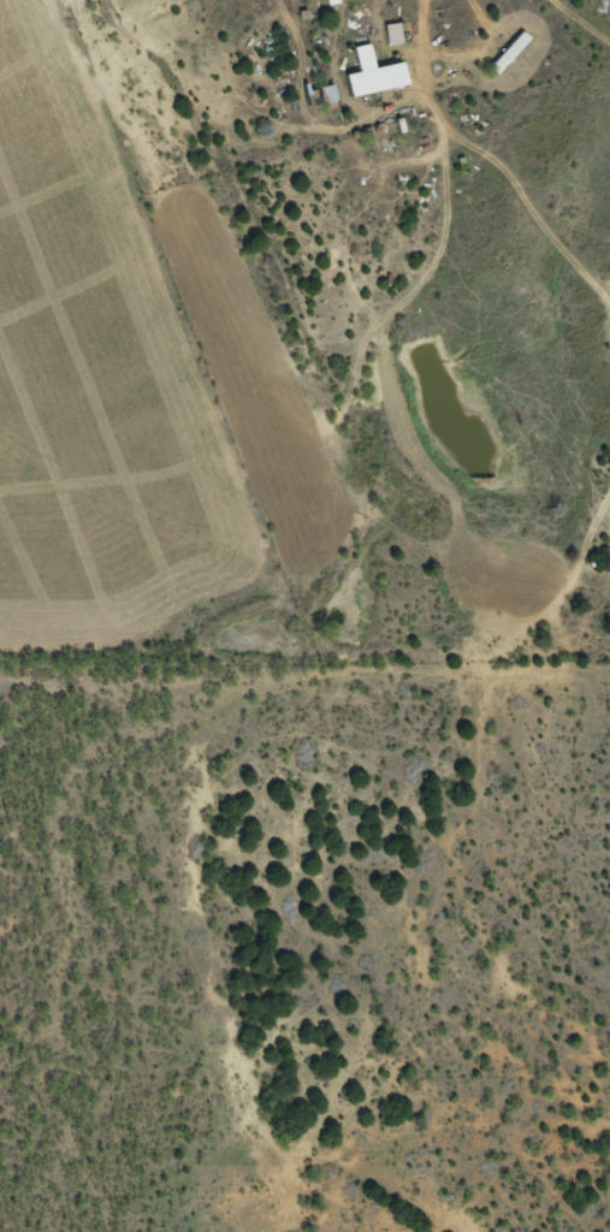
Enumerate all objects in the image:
building: (510, 55)
building: (375, 77)

